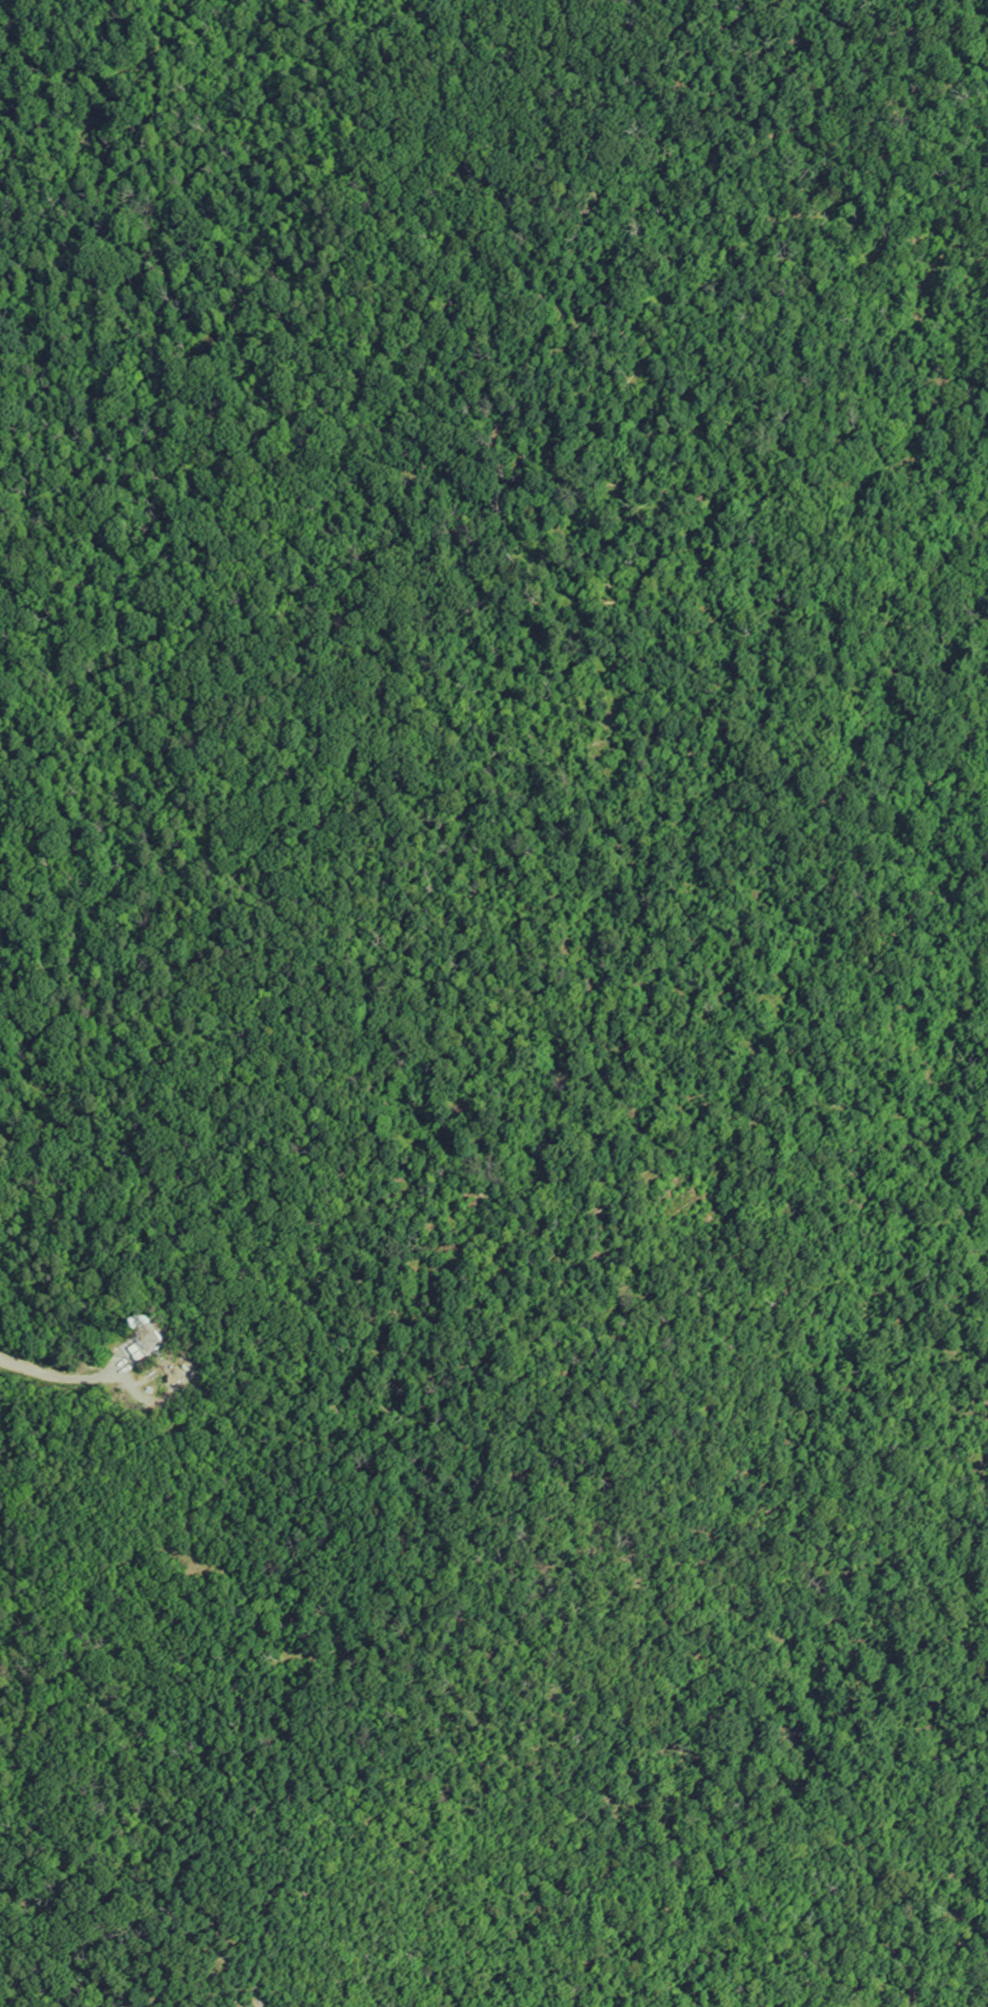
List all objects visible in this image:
road: (488, 1006)
road: (61, 1376)

